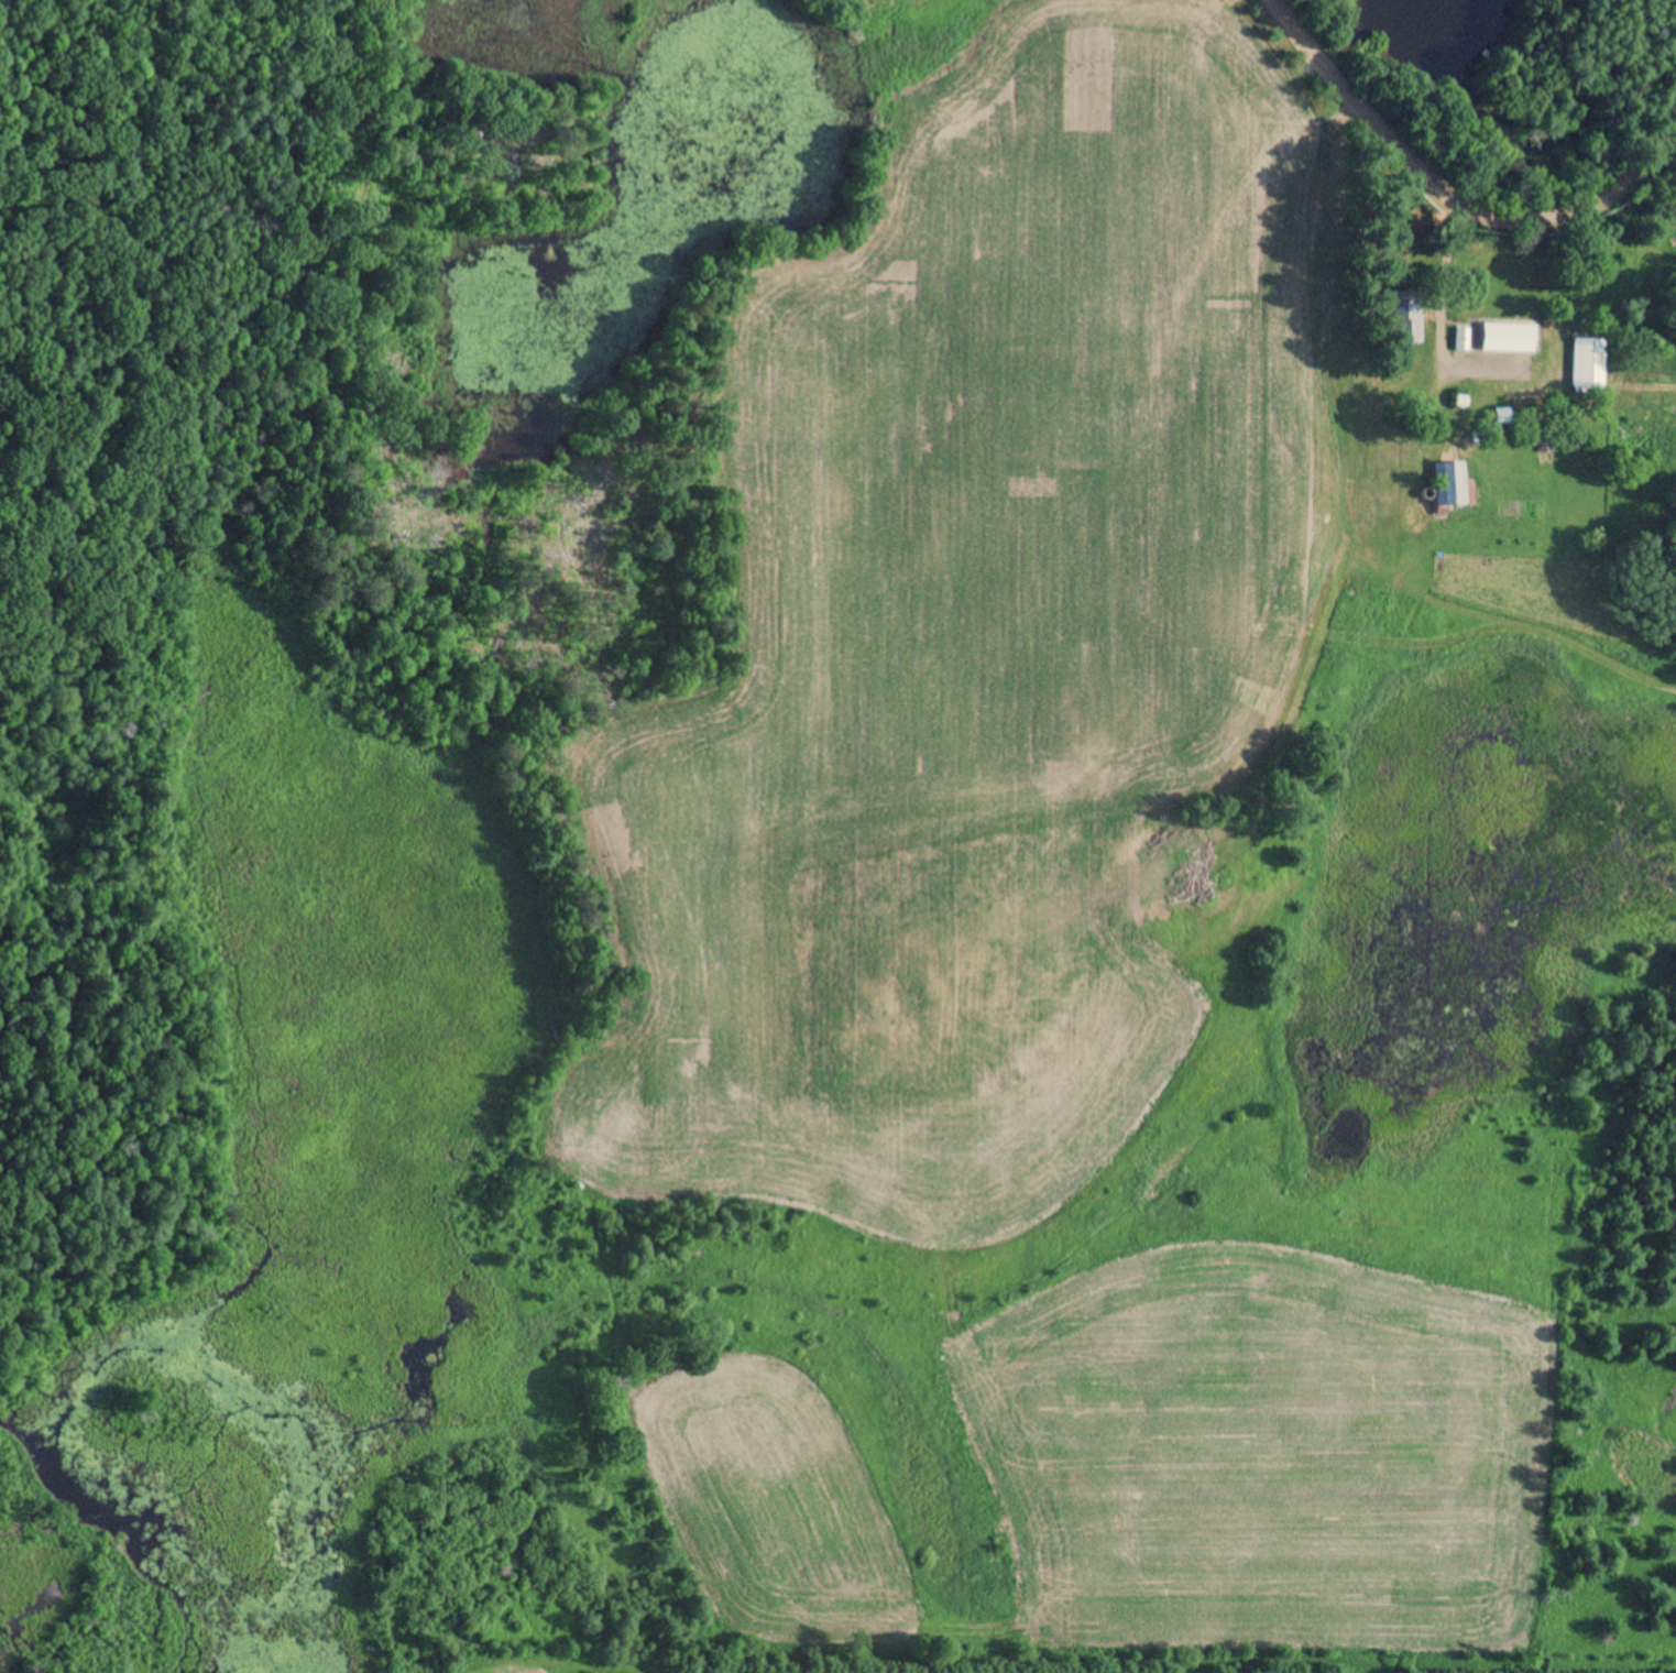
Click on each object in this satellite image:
road: (1418, 184)
building: (1404, 316)
building: (1508, 340)
building: (1588, 364)
building: (1449, 485)

